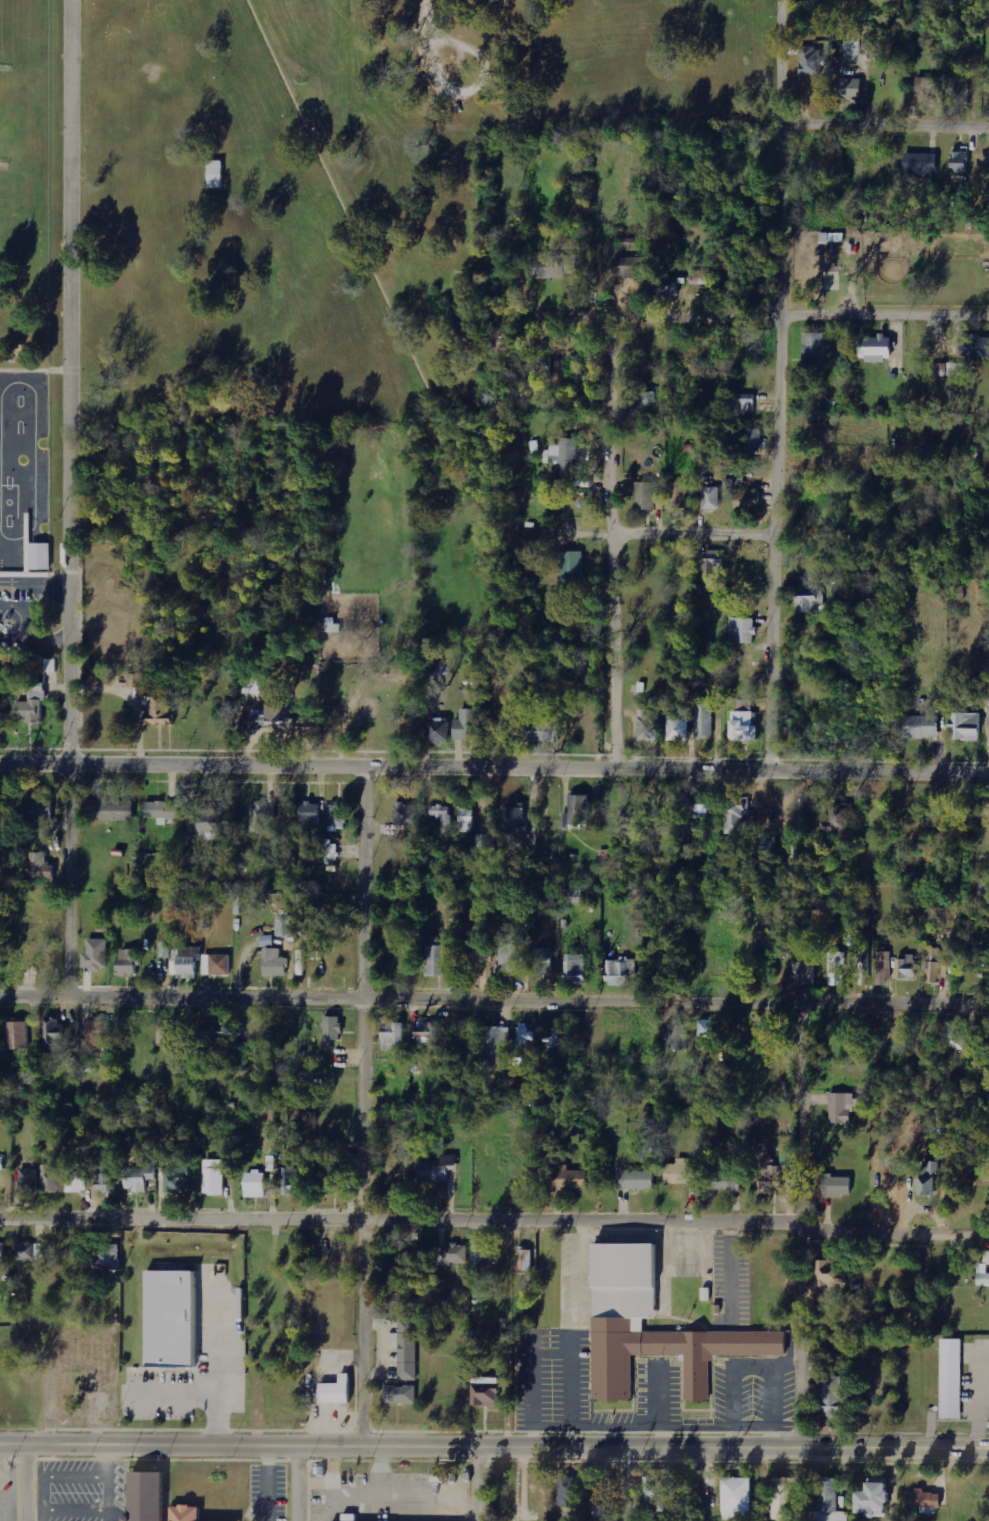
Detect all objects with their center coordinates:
building: (810, 60)
building: (926, 83)
building: (847, 88)
building: (962, 95)
road: (889, 120)
building: (960, 159)
building: (918, 165)
building: (213, 174)
building: (553, 266)
building: (701, 277)
park: (365, 278)
building: (667, 286)
road: (764, 310)
building: (973, 347)
building: (874, 348)
building: (545, 368)
road: (787, 382)
building: (648, 401)
building: (745, 402)
building: (815, 428)
building: (753, 438)
building: (566, 453)
building: (864, 454)
building: (677, 494)
building: (644, 496)
road: (69, 497)
building: (710, 498)
building: (745, 498)
road: (650, 529)
road: (619, 538)
building: (43, 556)
building: (713, 563)
building: (572, 566)
building: (808, 600)
building: (742, 630)
building: (52, 666)
building: (138, 679)
building: (35, 707)
building: (157, 709)
building: (271, 716)
building: (703, 719)
building: (742, 723)
building: (467, 724)
building: (647, 725)
building: (676, 726)
building: (919, 726)
building: (965, 726)
building: (437, 729)
building: (539, 731)
road: (494, 761)
building: (699, 803)
building: (107, 809)
building: (406, 813)
building: (37, 814)
building: (308, 816)
building: (338, 816)
building: (739, 816)
building: (262, 817)
building: (443, 817)
building: (467, 819)
building: (514, 821)
building: (837, 822)
building: (207, 823)
building: (486, 841)
building: (268, 845)
building: (331, 851)
building: (31, 871)
building: (984, 887)
building: (284, 925)
building: (511, 953)
building: (94, 955)
building: (438, 957)
building: (543, 960)
building: (184, 961)
building: (127, 962)
building: (272, 962)
building: (215, 964)
building: (935, 964)
building: (906, 967)
building: (575, 968)
building: (837, 968)
building: (864, 968)
building: (883, 968)
building: (619, 970)
building: (803, 972)
road: (494, 997)
building: (331, 1030)
building: (708, 1030)
building: (212, 1031)
building: (53, 1032)
building: (429, 1033)
building: (16, 1034)
building: (95, 1034)
building: (392, 1035)
building: (954, 1035)
building: (526, 1036)
building: (553, 1037)
building: (677, 1037)
building: (497, 1050)
road: (369, 1102)
building: (840, 1107)
building: (938, 1118)
building: (347, 1159)
building: (1, 1164)
building: (433, 1169)
building: (682, 1172)
building: (105, 1174)
building: (769, 1176)
building: (138, 1177)
building: (213, 1177)
building: (76, 1178)
building: (568, 1178)
building: (175, 1179)
building: (636, 1179)
building: (927, 1179)
building: (27, 1181)
building: (724, 1181)
building: (292, 1182)
building: (254, 1184)
building: (836, 1186)
road: (494, 1218)
road: (808, 1224)
building: (4, 1251)
building: (28, 1251)
building: (453, 1254)
building: (105, 1256)
building: (986, 1258)
building: (524, 1260)
building: (403, 1263)
building: (824, 1273)
building: (983, 1279)
building: (403, 1301)
building: (165, 1317)
building: (615, 1321)
building: (194, 1342)
building: (407, 1349)
building: (947, 1380)
building: (399, 1394)
building: (482, 1394)
building: (830, 1396)
road: (494, 1448)
road: (23, 1483)
road: (294, 1483)
road: (471, 1484)
road: (623, 1487)
building: (570, 1491)
building: (143, 1493)
building: (654, 1493)
building: (783, 1498)
building: (737, 1499)
building: (872, 1499)
building: (923, 1501)
building: (183, 1511)
building: (346, 1518)

